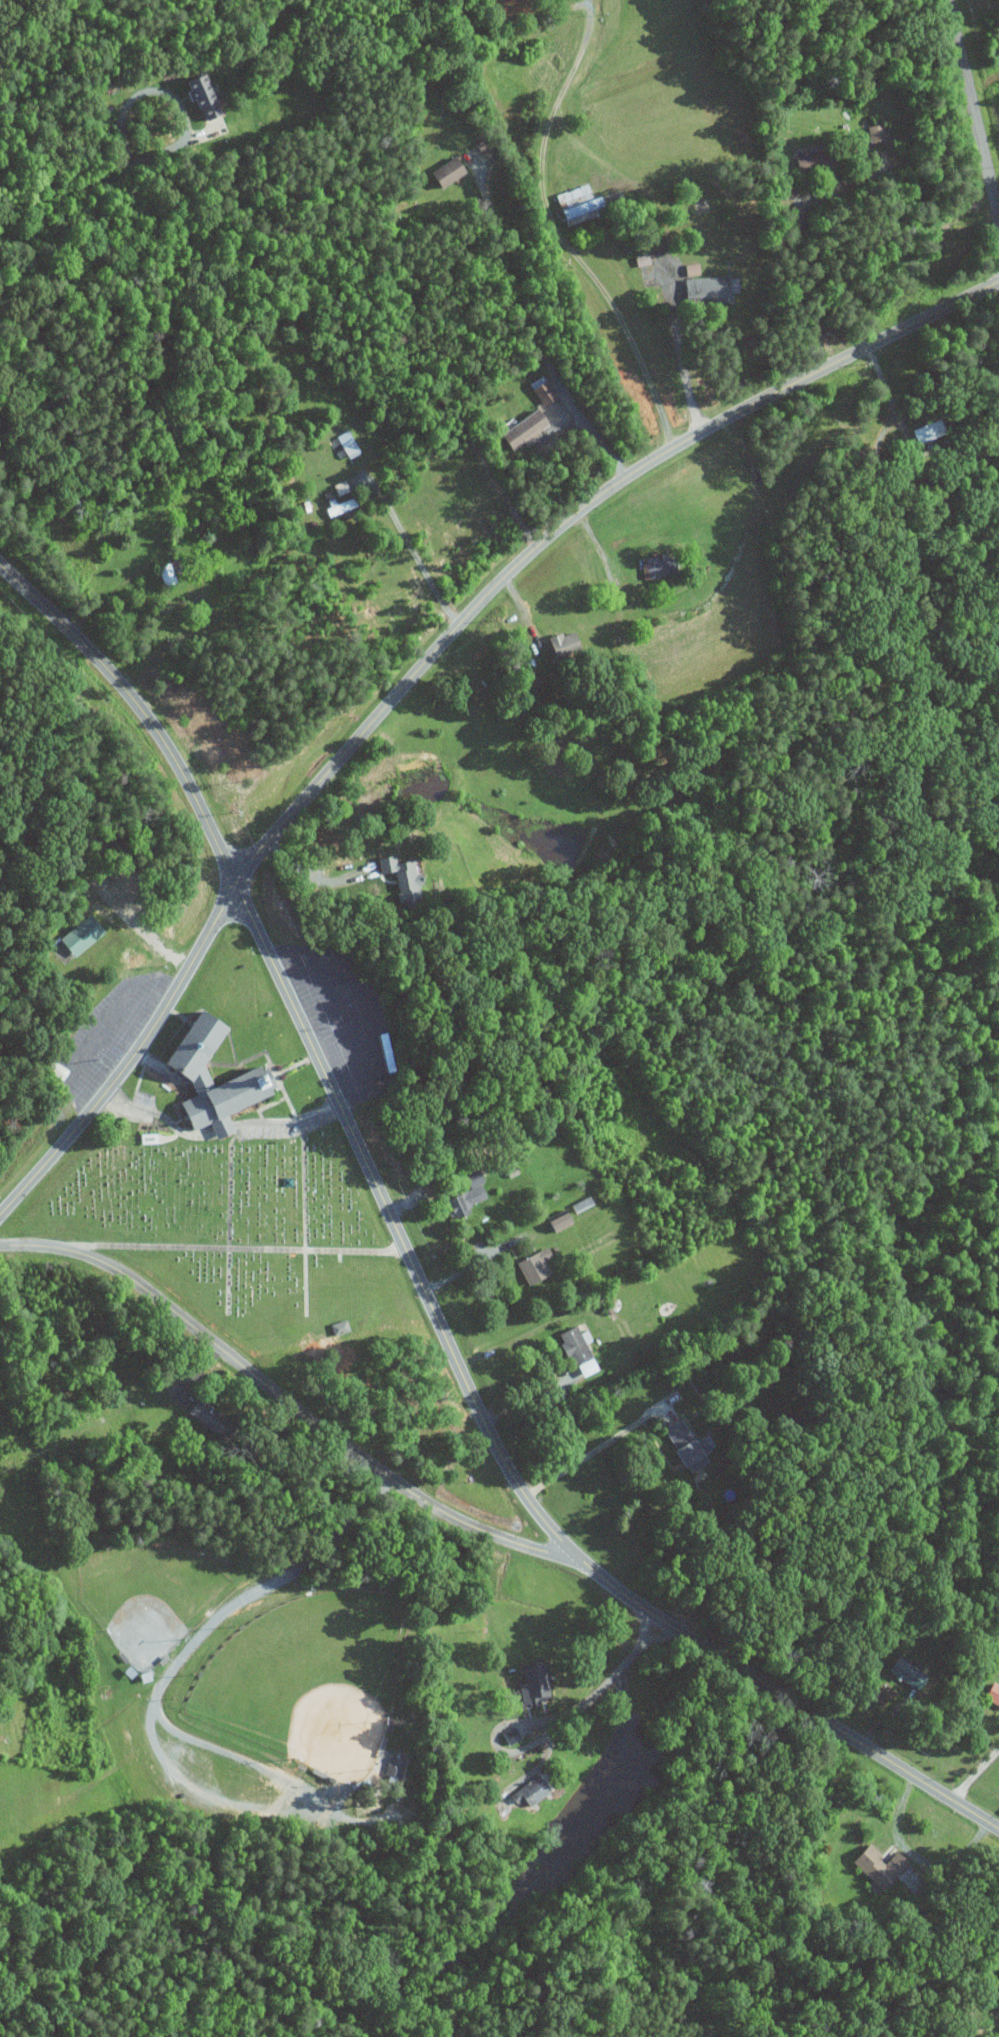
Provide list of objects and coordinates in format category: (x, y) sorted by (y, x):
building: (198, 95)
road: (170, 97)
road: (973, 118)
building: (872, 133)
building: (807, 162)
building: (442, 172)
road: (67, 188)
building: (571, 204)
road: (556, 233)
road: (801, 236)
building: (691, 283)
road: (530, 333)
road: (683, 368)
building: (541, 392)
building: (518, 431)
road: (911, 441)
building: (343, 445)
building: (337, 508)
road: (408, 545)
building: (651, 567)
road: (108, 597)
building: (560, 645)
road: (423, 663)
road: (309, 875)
building: (406, 877)
building: (86, 935)
road: (367, 1014)
road: (342, 1021)
road: (103, 1028)
road: (83, 1055)
building: (259, 1077)
road: (127, 1105)
road: (288, 1120)
road: (226, 1128)
road: (181, 1132)
building: (467, 1202)
building: (582, 1205)
building: (565, 1221)
road: (472, 1262)
building: (536, 1267)
road: (416, 1274)
building: (342, 1328)
building: (582, 1351)
road: (528, 1397)
road: (288, 1403)
building: (218, 1418)
building: (690, 1446)
road: (584, 1457)
road: (646, 1626)
road: (662, 1636)
road: (174, 1666)
building: (911, 1676)
building: (536, 1683)
road: (600, 1688)
building: (994, 1694)
building: (397, 1767)
road: (975, 1774)
building: (534, 1792)
road: (913, 1857)
building: (883, 1867)

